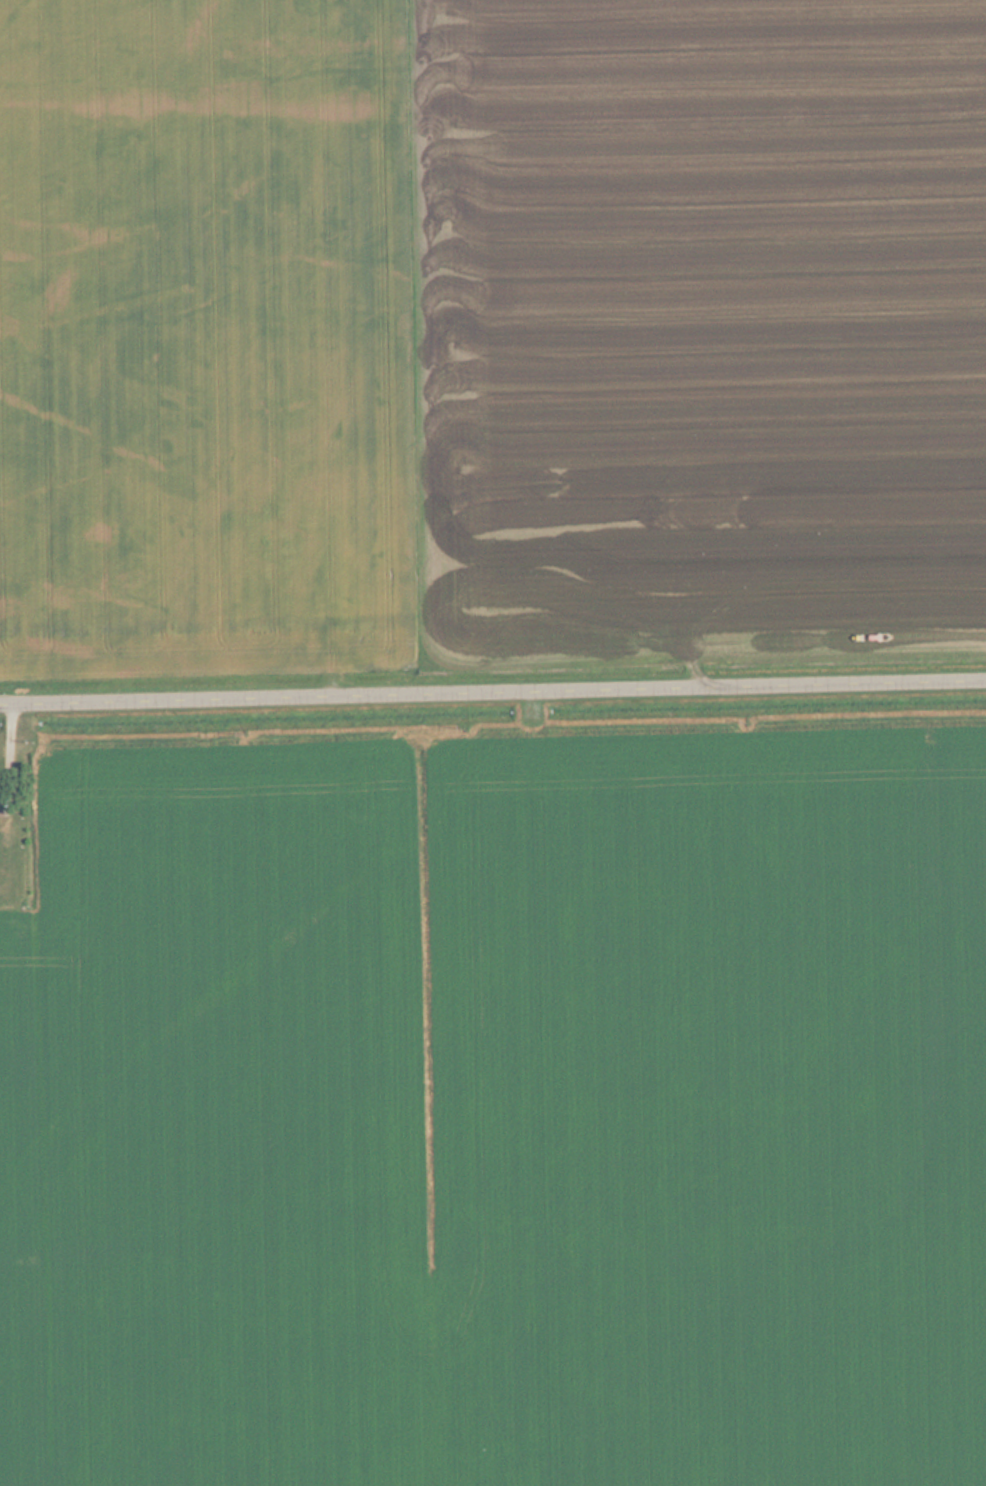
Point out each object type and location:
road: (493, 684)

